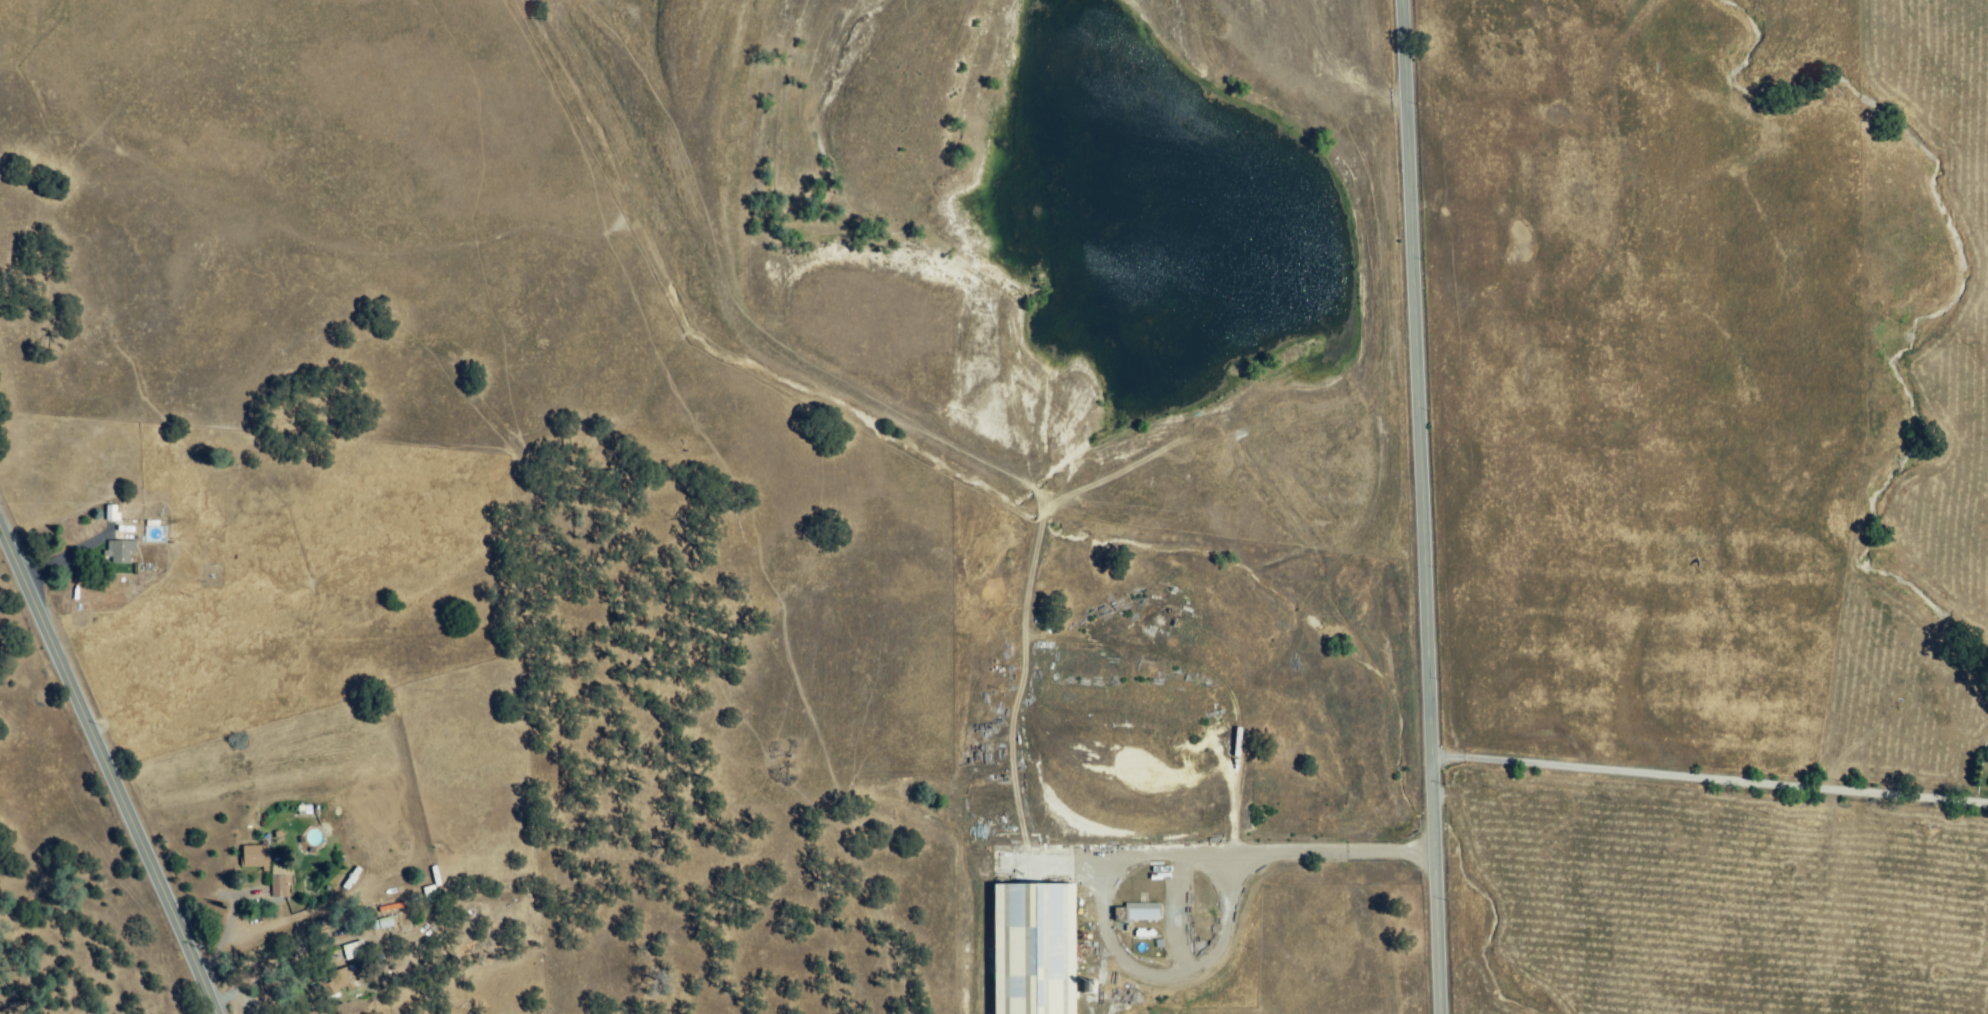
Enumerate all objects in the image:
road: (1422, 506)
building: (111, 513)
building: (120, 552)
road: (109, 769)
road: (1709, 778)
road: (1275, 853)
building: (256, 857)
building: (283, 879)
building: (431, 895)
building: (1138, 914)
building: (386, 922)
building: (1033, 949)
building: (355, 950)
road: (257, 967)
building: (340, 982)

